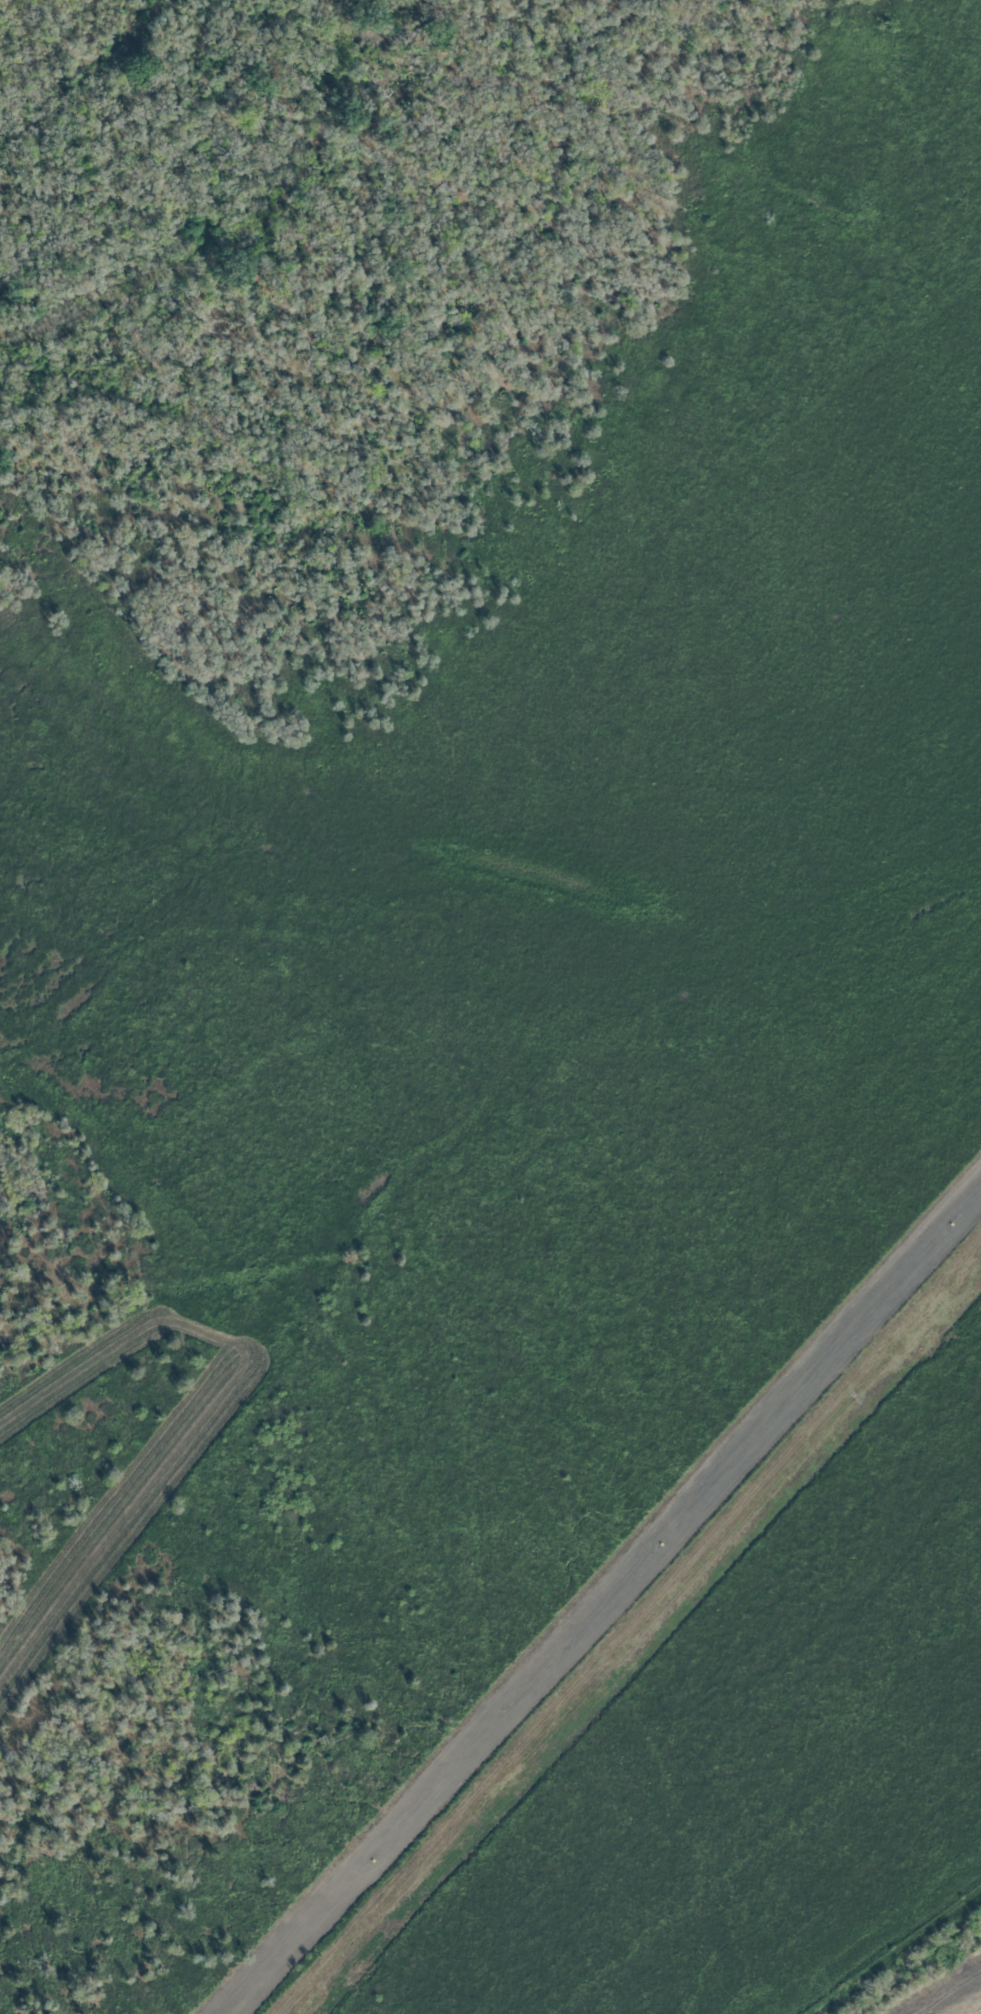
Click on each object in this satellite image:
road: (641, 1637)

